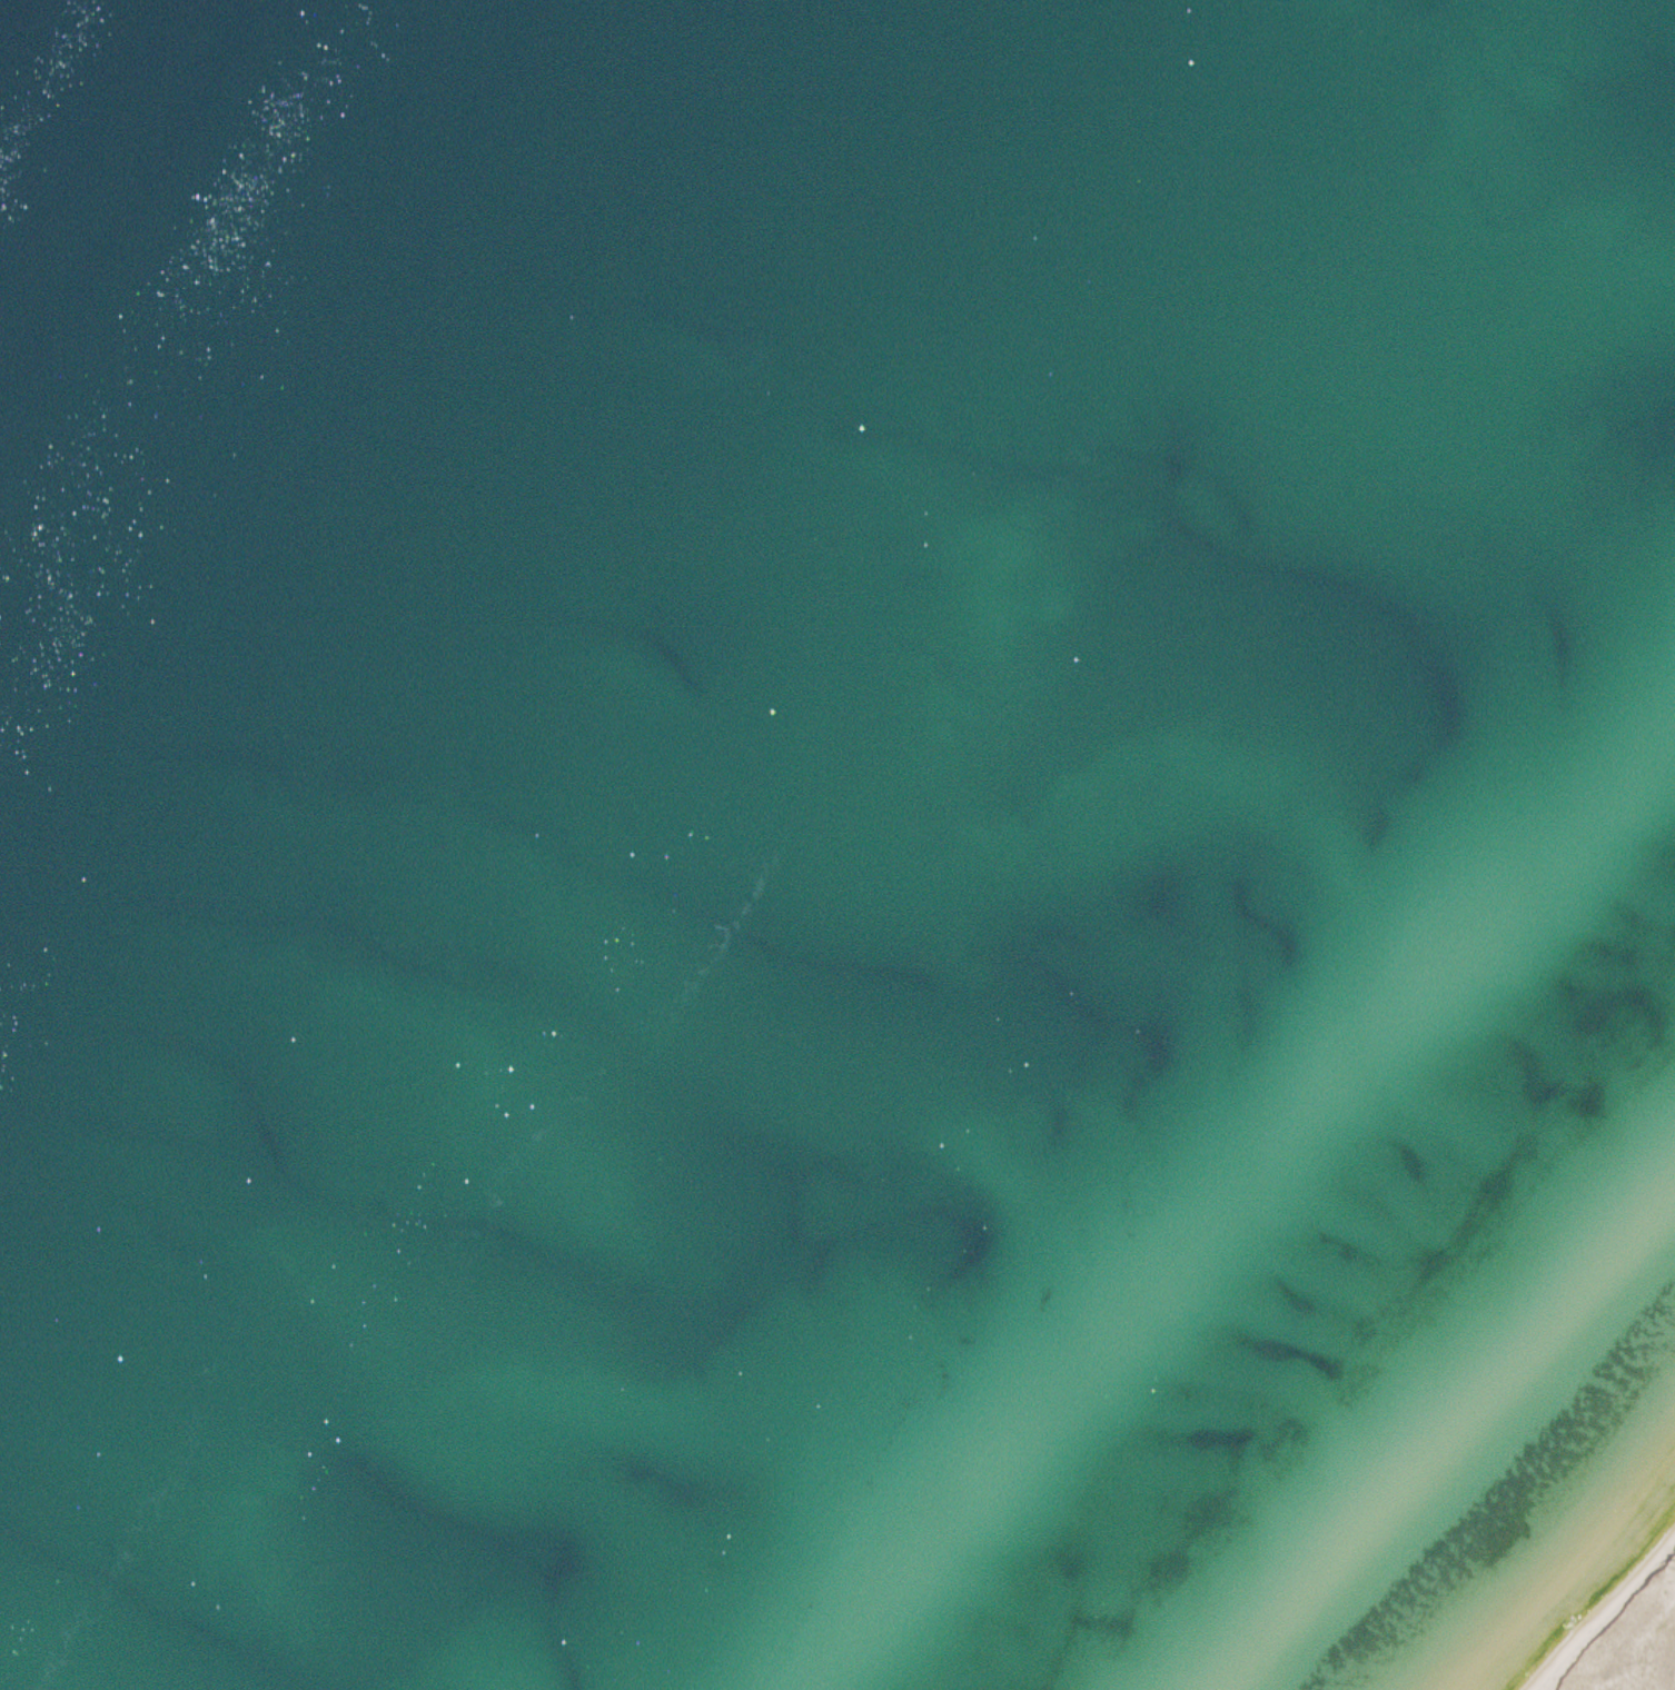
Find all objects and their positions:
park: (1570, 1563)

